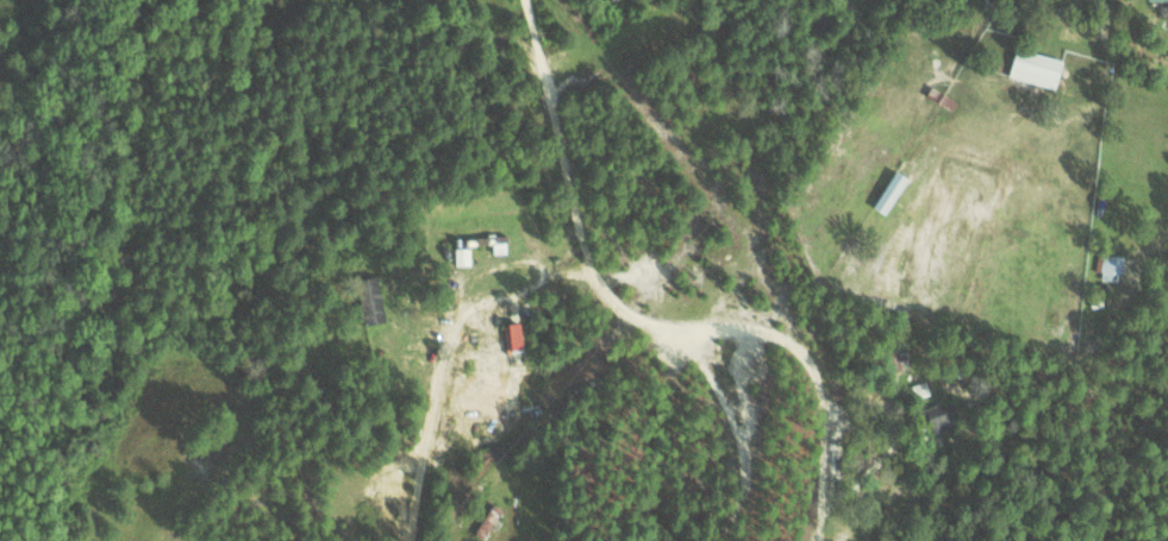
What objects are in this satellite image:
building: (1157, 0)
building: (1035, 68)
building: (889, 190)
building: (493, 241)
building: (462, 256)
building: (1111, 264)
building: (369, 300)
road: (658, 315)
building: (512, 334)
building: (941, 415)
building: (487, 520)

